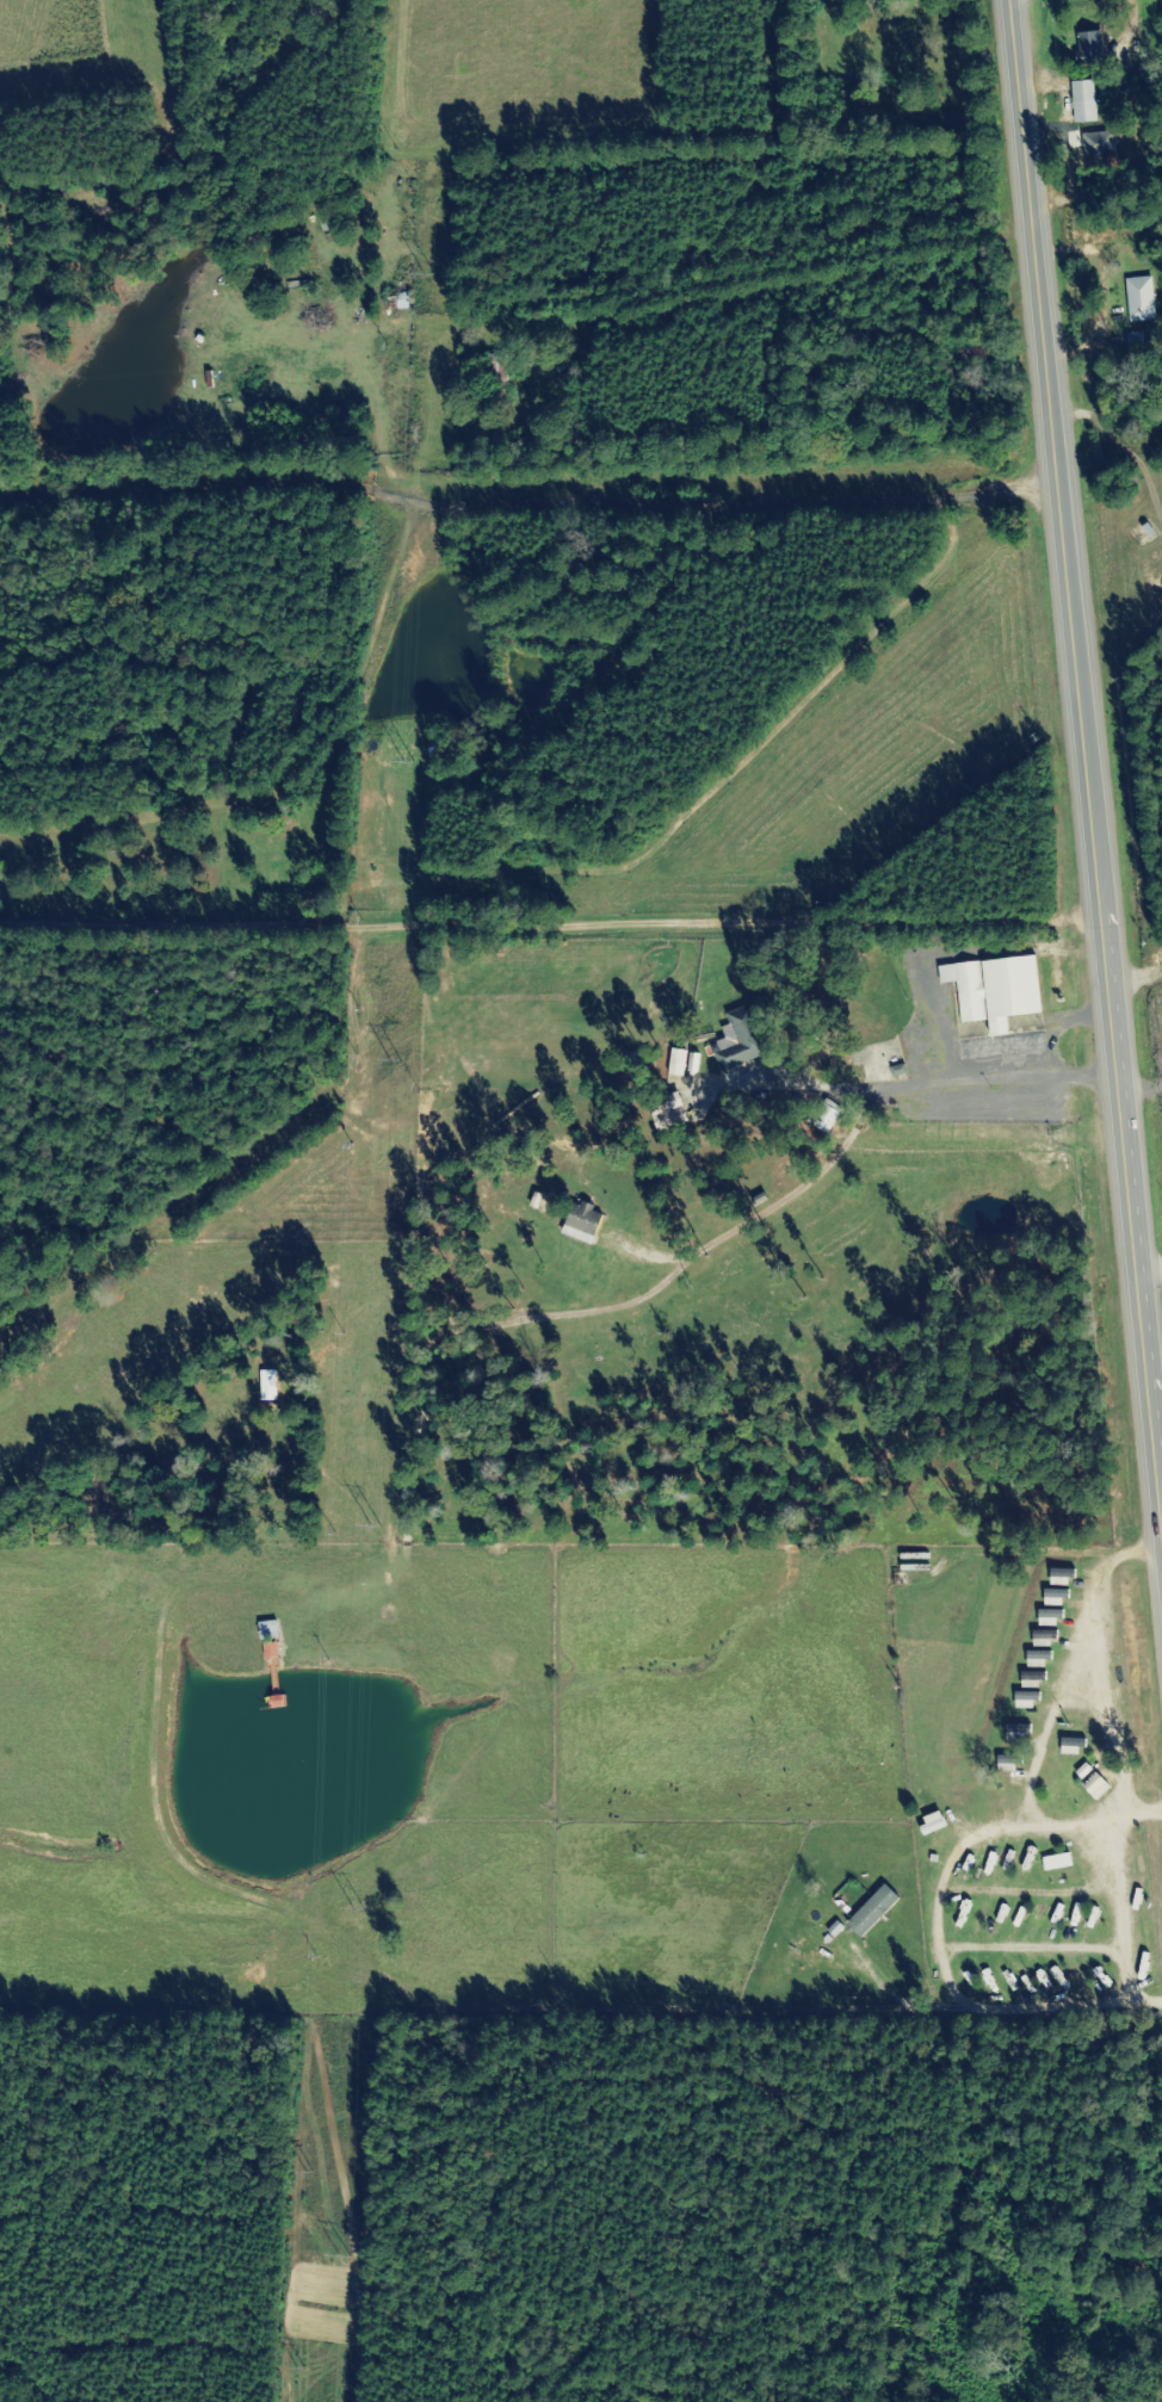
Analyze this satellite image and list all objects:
building: (1083, 48)
building: (1078, 100)
building: (1083, 146)
building: (1136, 298)
building: (397, 301)
building: (493, 378)
road: (1081, 787)
building: (990, 990)
building: (737, 1038)
building: (674, 1061)
building: (663, 1110)
building: (493, 1549)
building: (1043, 1617)
building: (296, 1635)
building: (1037, 1638)
building: (264, 1639)
building: (1031, 1659)
building: (1025, 1679)
building: (1020, 1700)
building: (1010, 1731)
building: (1001, 1763)
building: (1089, 1787)
building: (1051, 1862)
building: (866, 1909)

